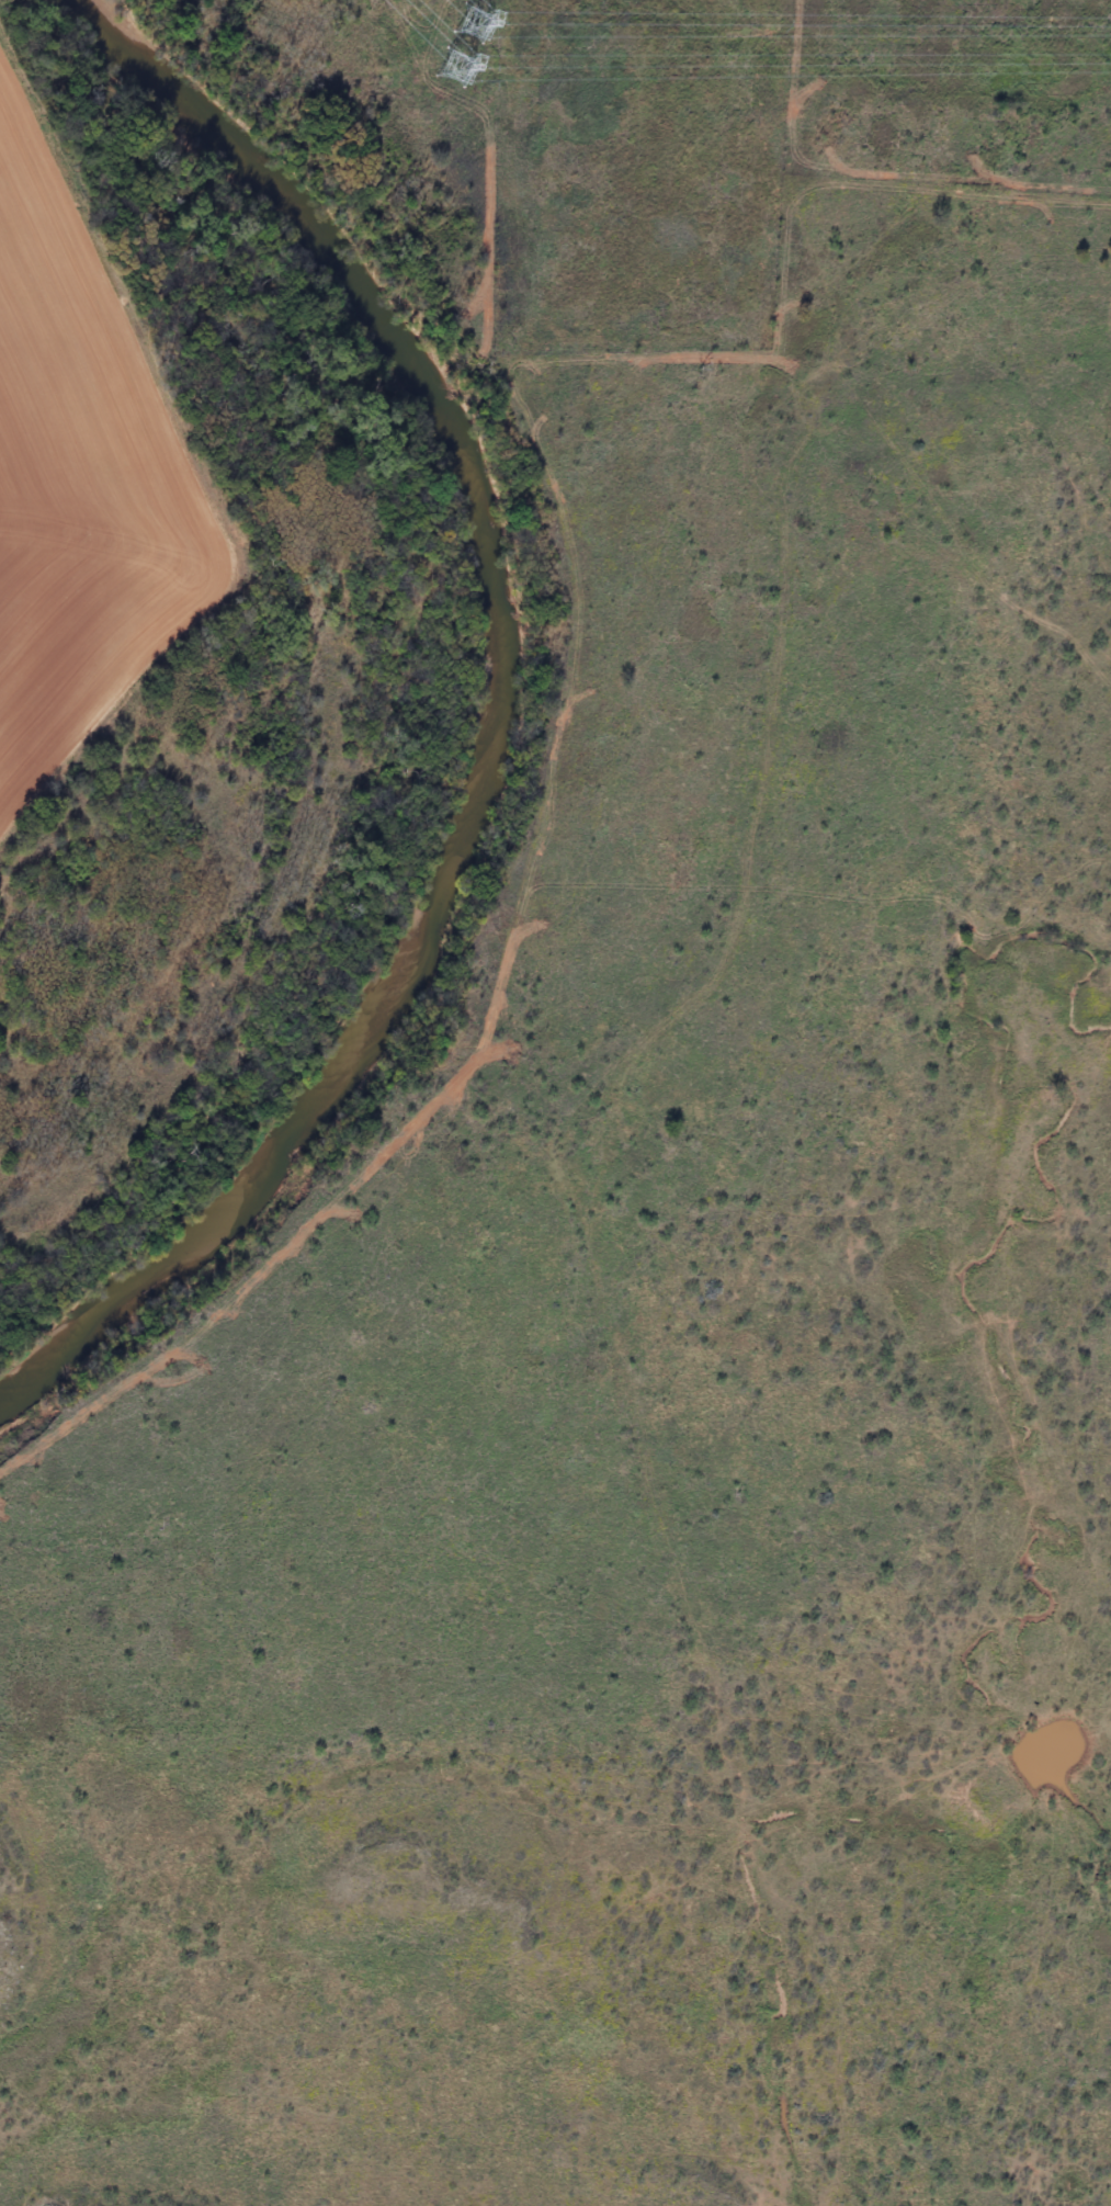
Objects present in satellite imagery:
power tower: (464, 44)
river: (491, 714)

